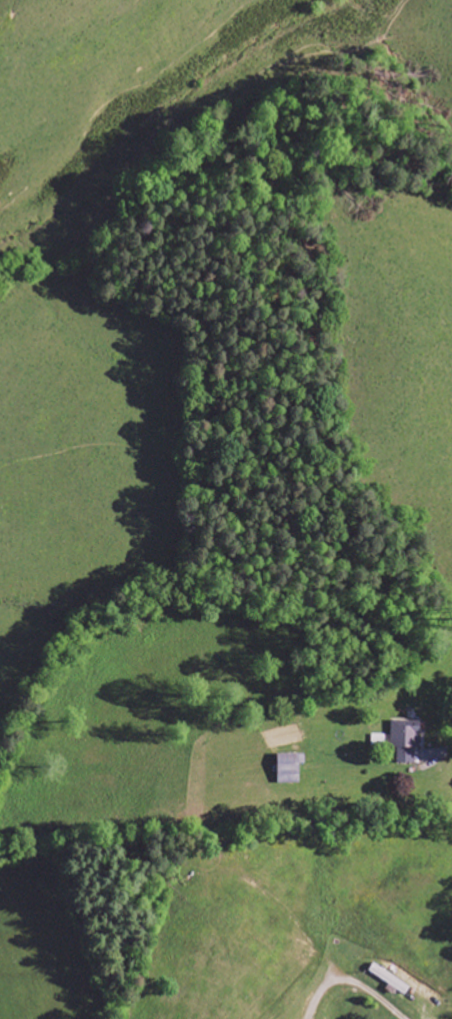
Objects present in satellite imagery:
building: (407, 739)
building: (291, 768)
building: (391, 979)

